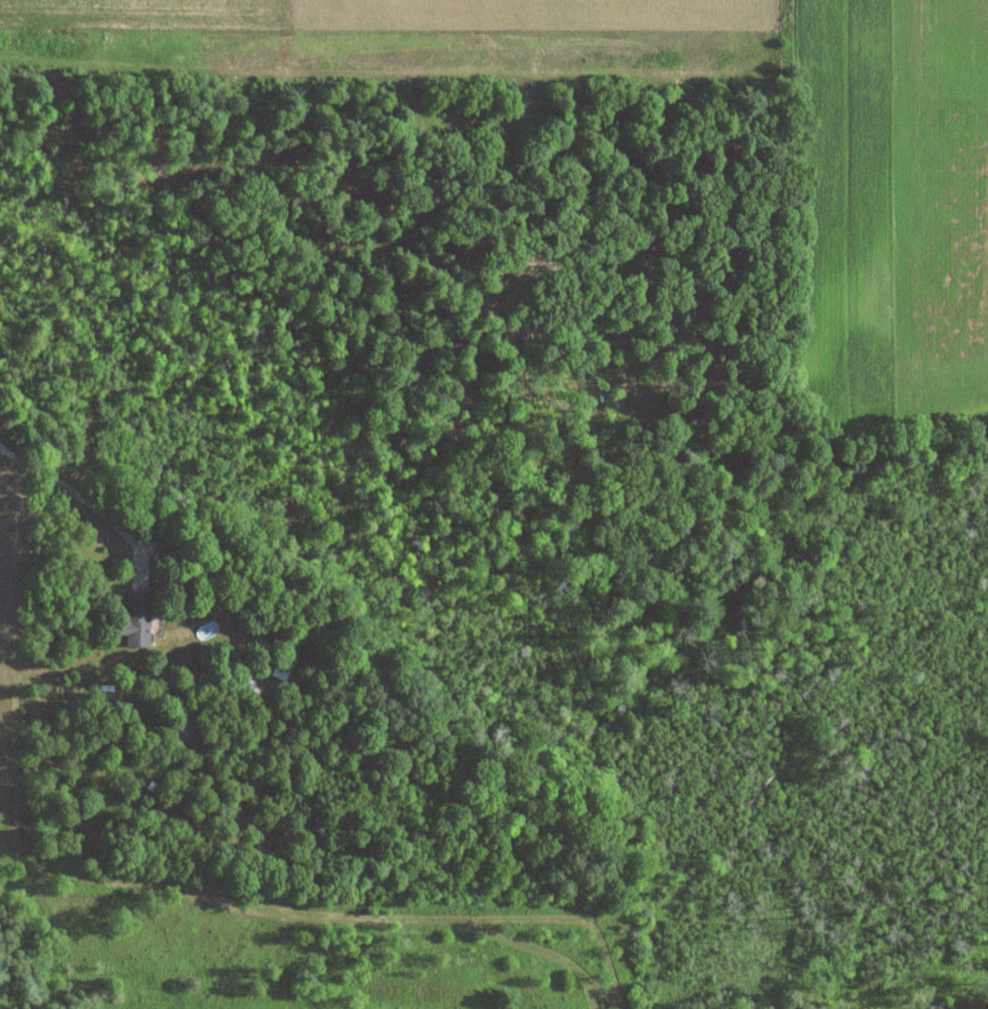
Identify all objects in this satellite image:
road: (79, 497)
building: (138, 620)

